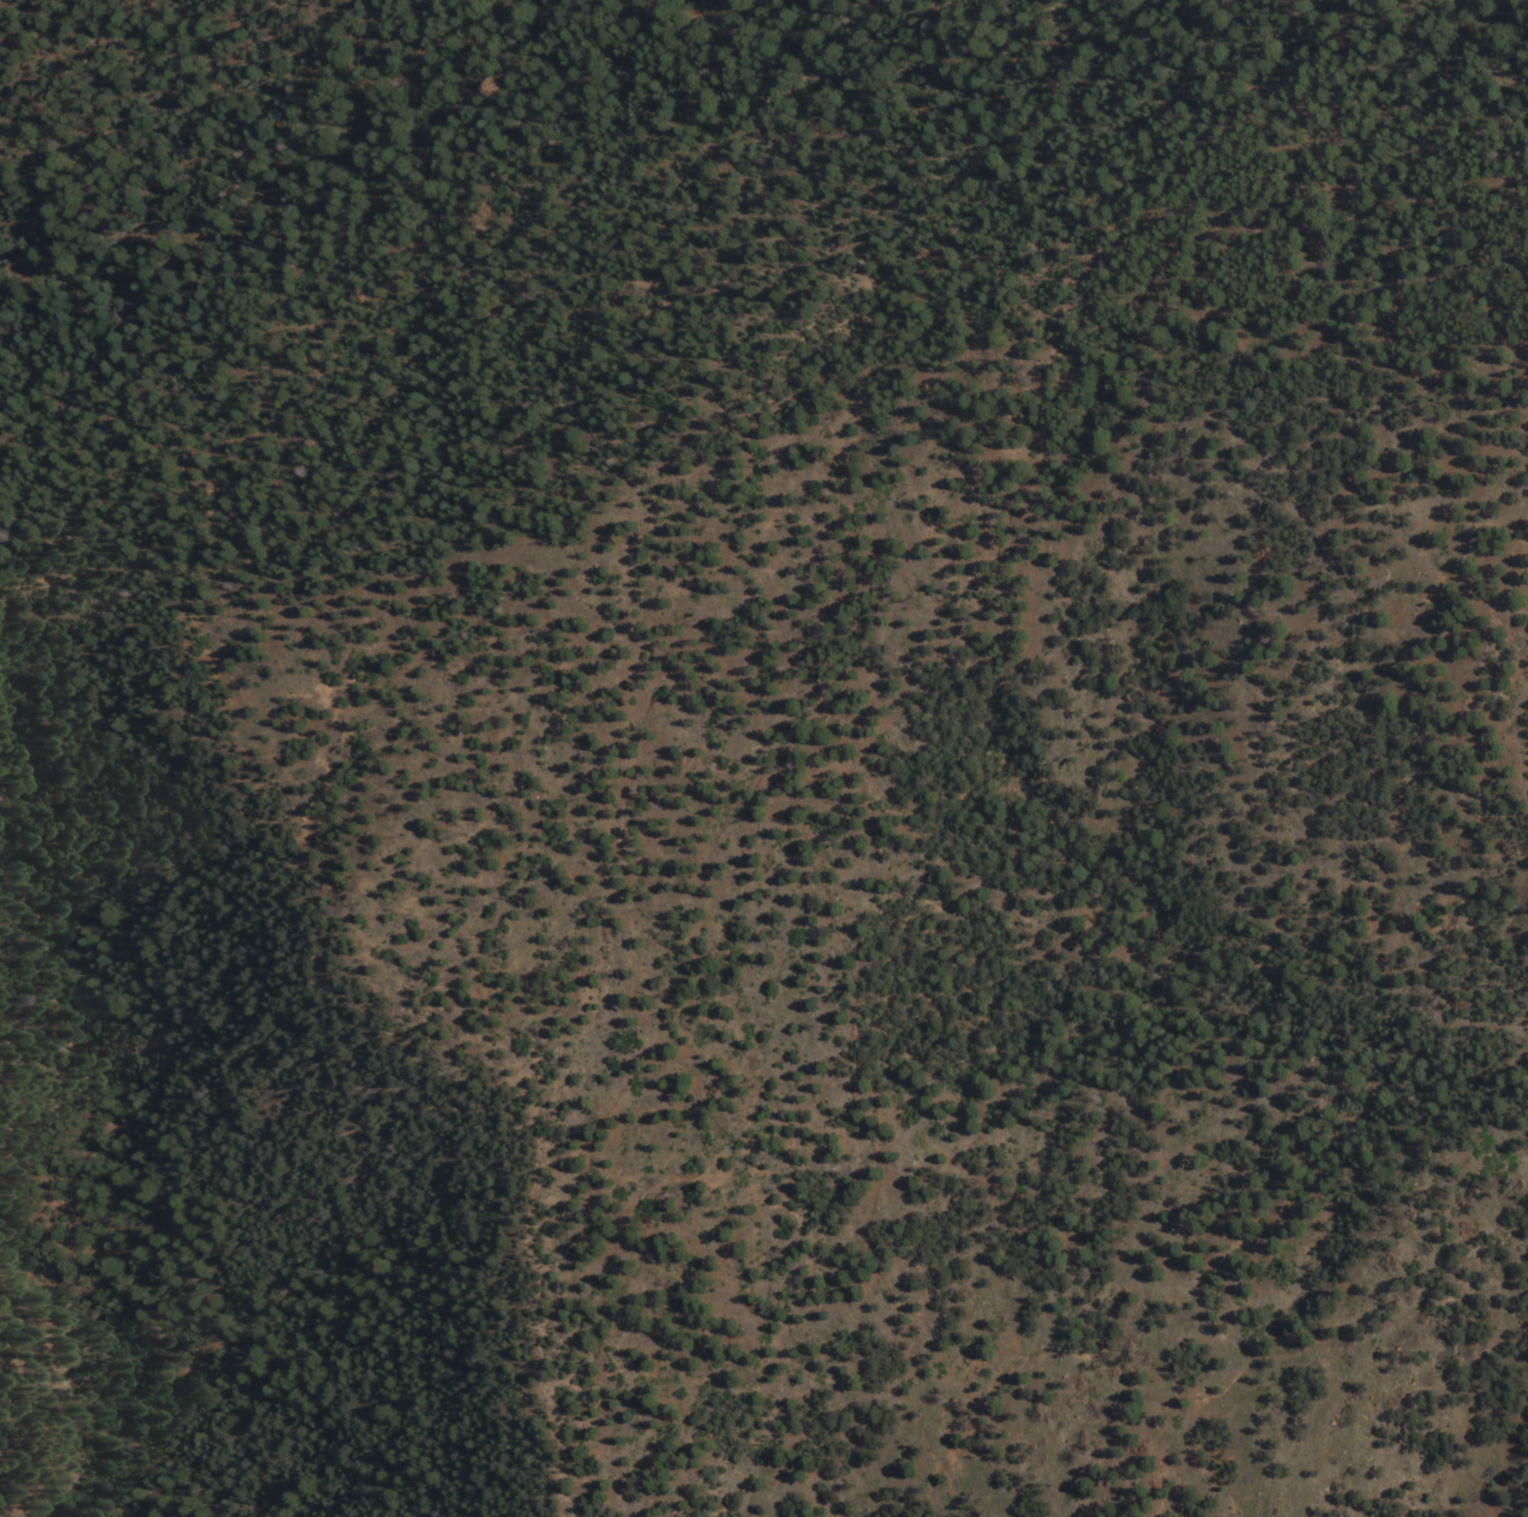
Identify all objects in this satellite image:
road: (1100, 64)
road: (728, 287)
road: (825, 914)
road: (361, 1002)
road: (1388, 1217)
road: (899, 1499)

